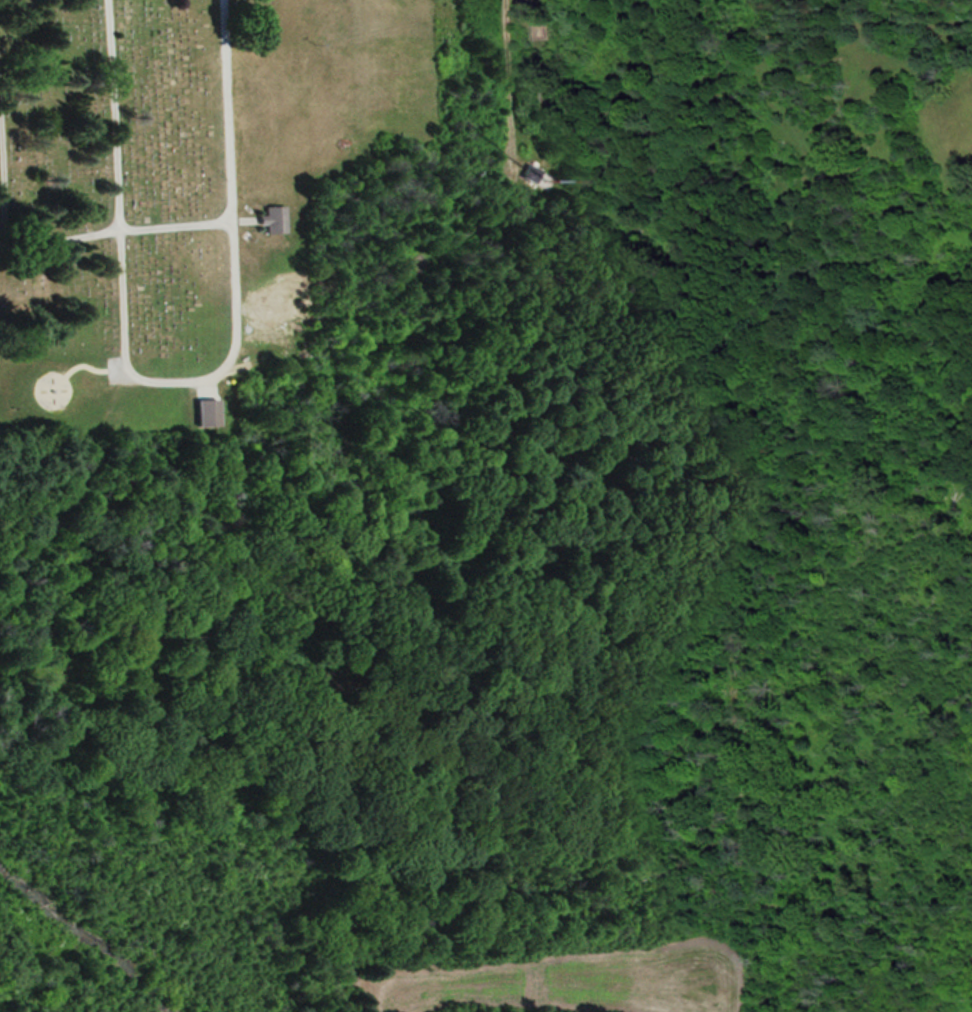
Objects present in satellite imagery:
building: (299, 62)
road: (508, 83)
building: (531, 171)
road: (1, 205)
building: (274, 217)
road: (114, 227)
road: (176, 376)
building: (208, 410)

